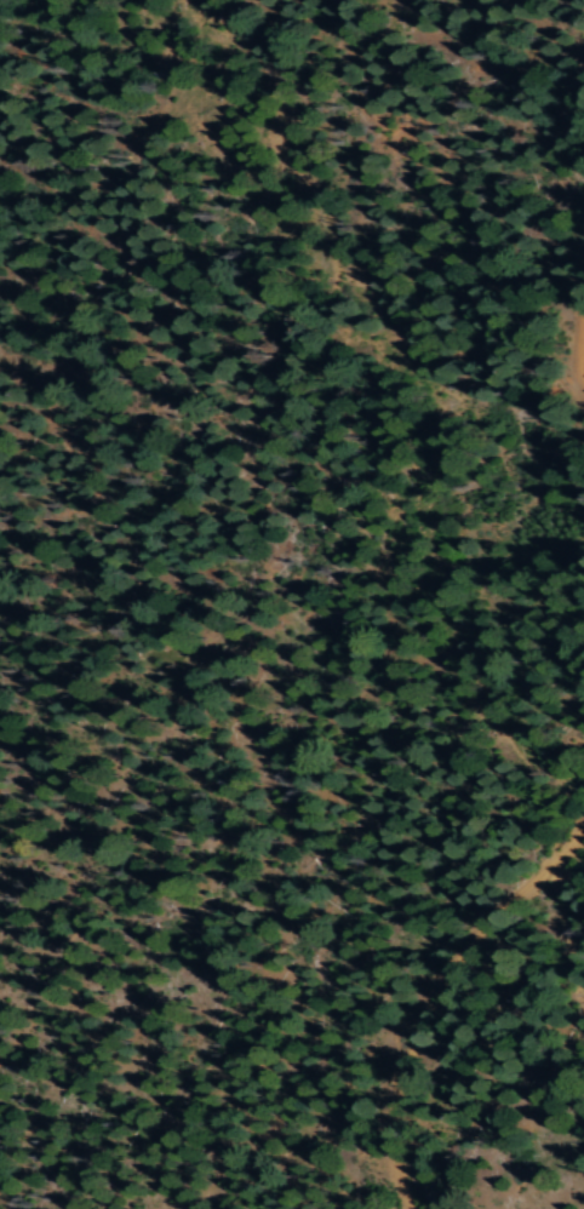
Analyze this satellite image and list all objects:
road: (390, 972)

